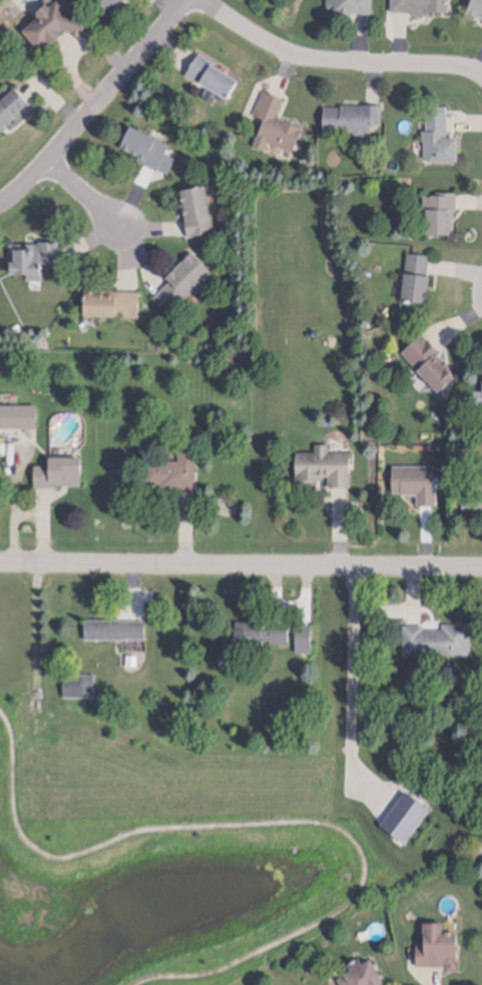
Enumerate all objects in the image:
building: (110, 5)
building: (350, 7)
building: (421, 8)
building: (477, 9)
building: (57, 27)
road: (75, 53)
road: (334, 59)
building: (213, 81)
road: (97, 104)
building: (11, 111)
building: (352, 120)
building: (275, 127)
building: (439, 140)
building: (149, 153)
road: (85, 194)
building: (198, 214)
building: (441, 216)
building: (33, 261)
building: (417, 282)
building: (183, 284)
building: (112, 306)
building: (430, 367)
building: (480, 396)
building: (478, 404)
building: (19, 419)
building: (325, 471)
building: (174, 474)
building: (59, 476)
building: (417, 487)
building: (472, 501)
road: (241, 565)
building: (114, 632)
building: (260, 637)
building: (304, 642)
building: (437, 644)
building: (132, 662)
road: (352, 684)
building: (79, 687)
building: (406, 821)
road: (273, 823)
park: (194, 825)
building: (439, 941)
building: (362, 970)

